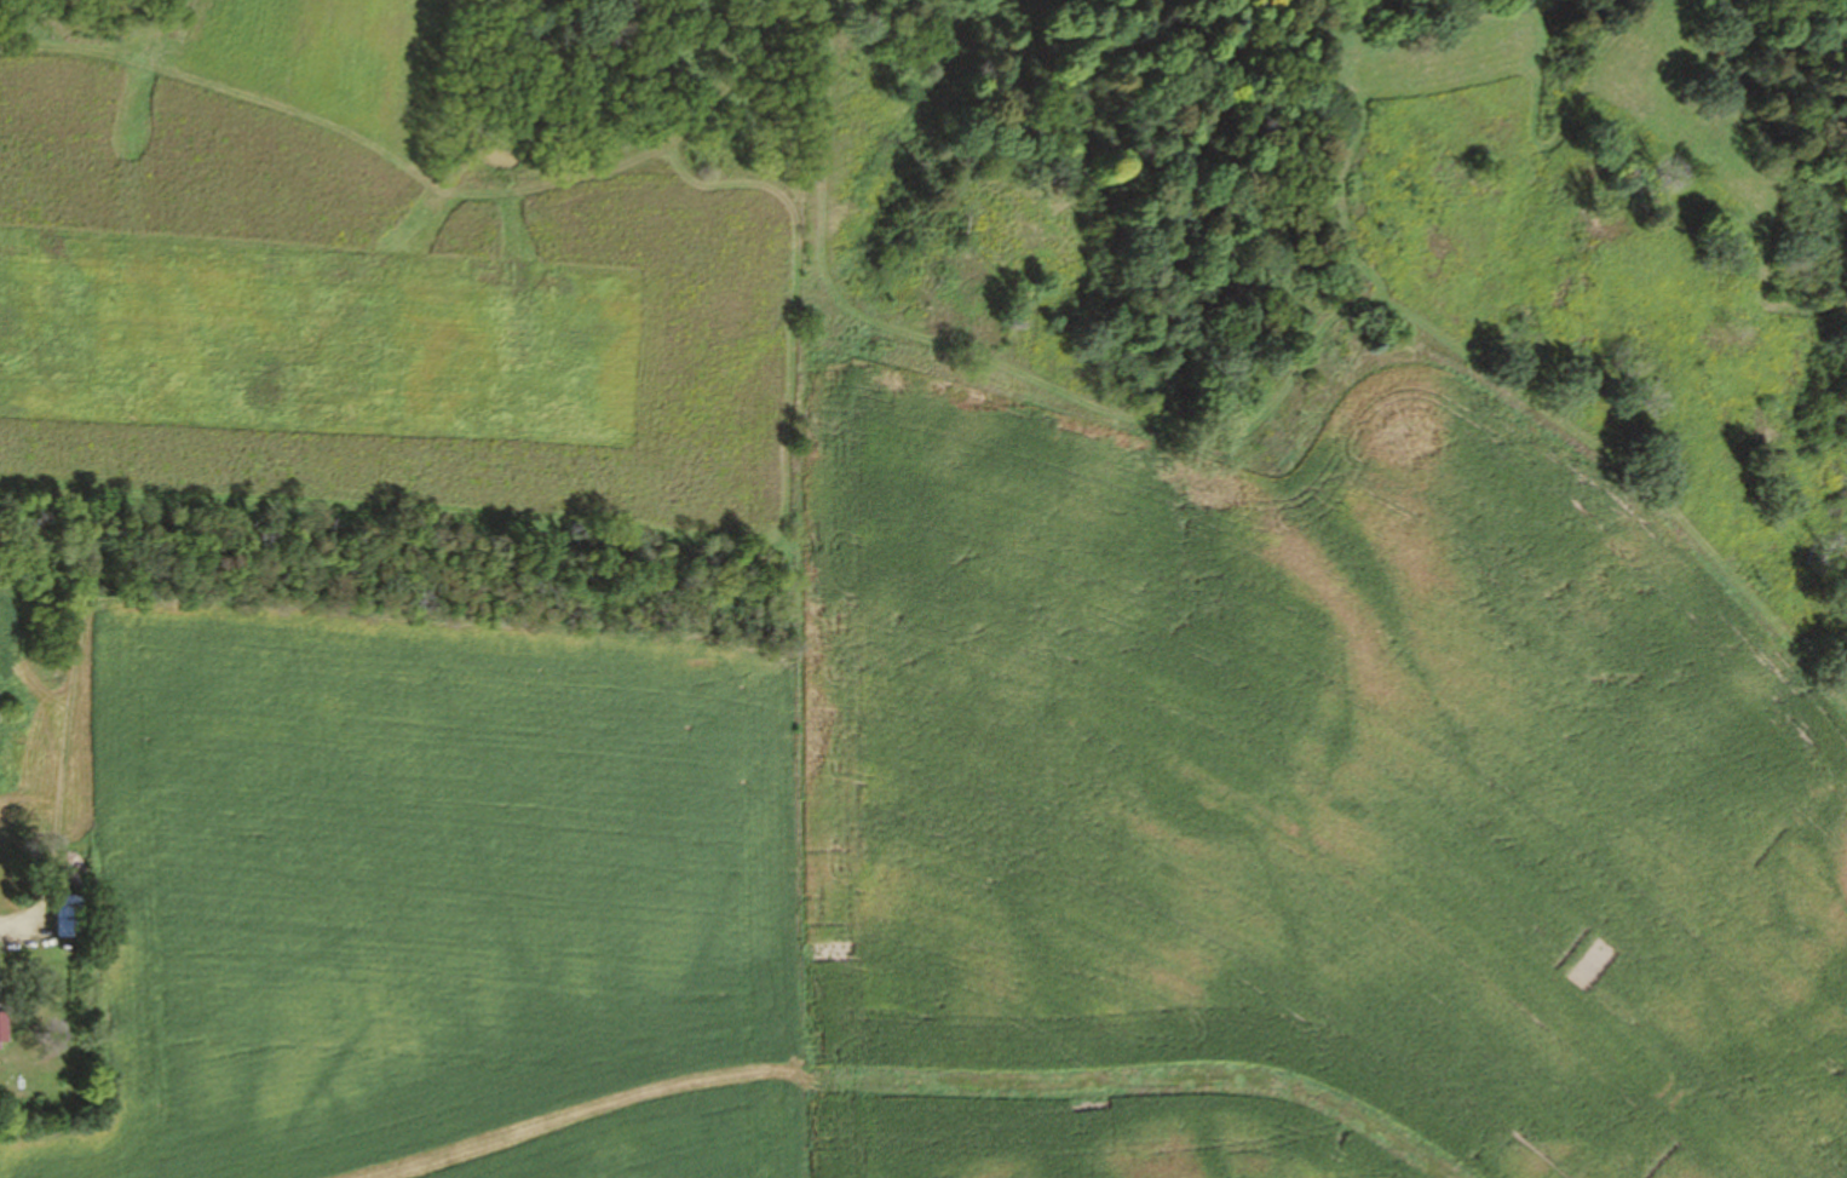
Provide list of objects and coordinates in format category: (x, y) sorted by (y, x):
building: (64, 915)

